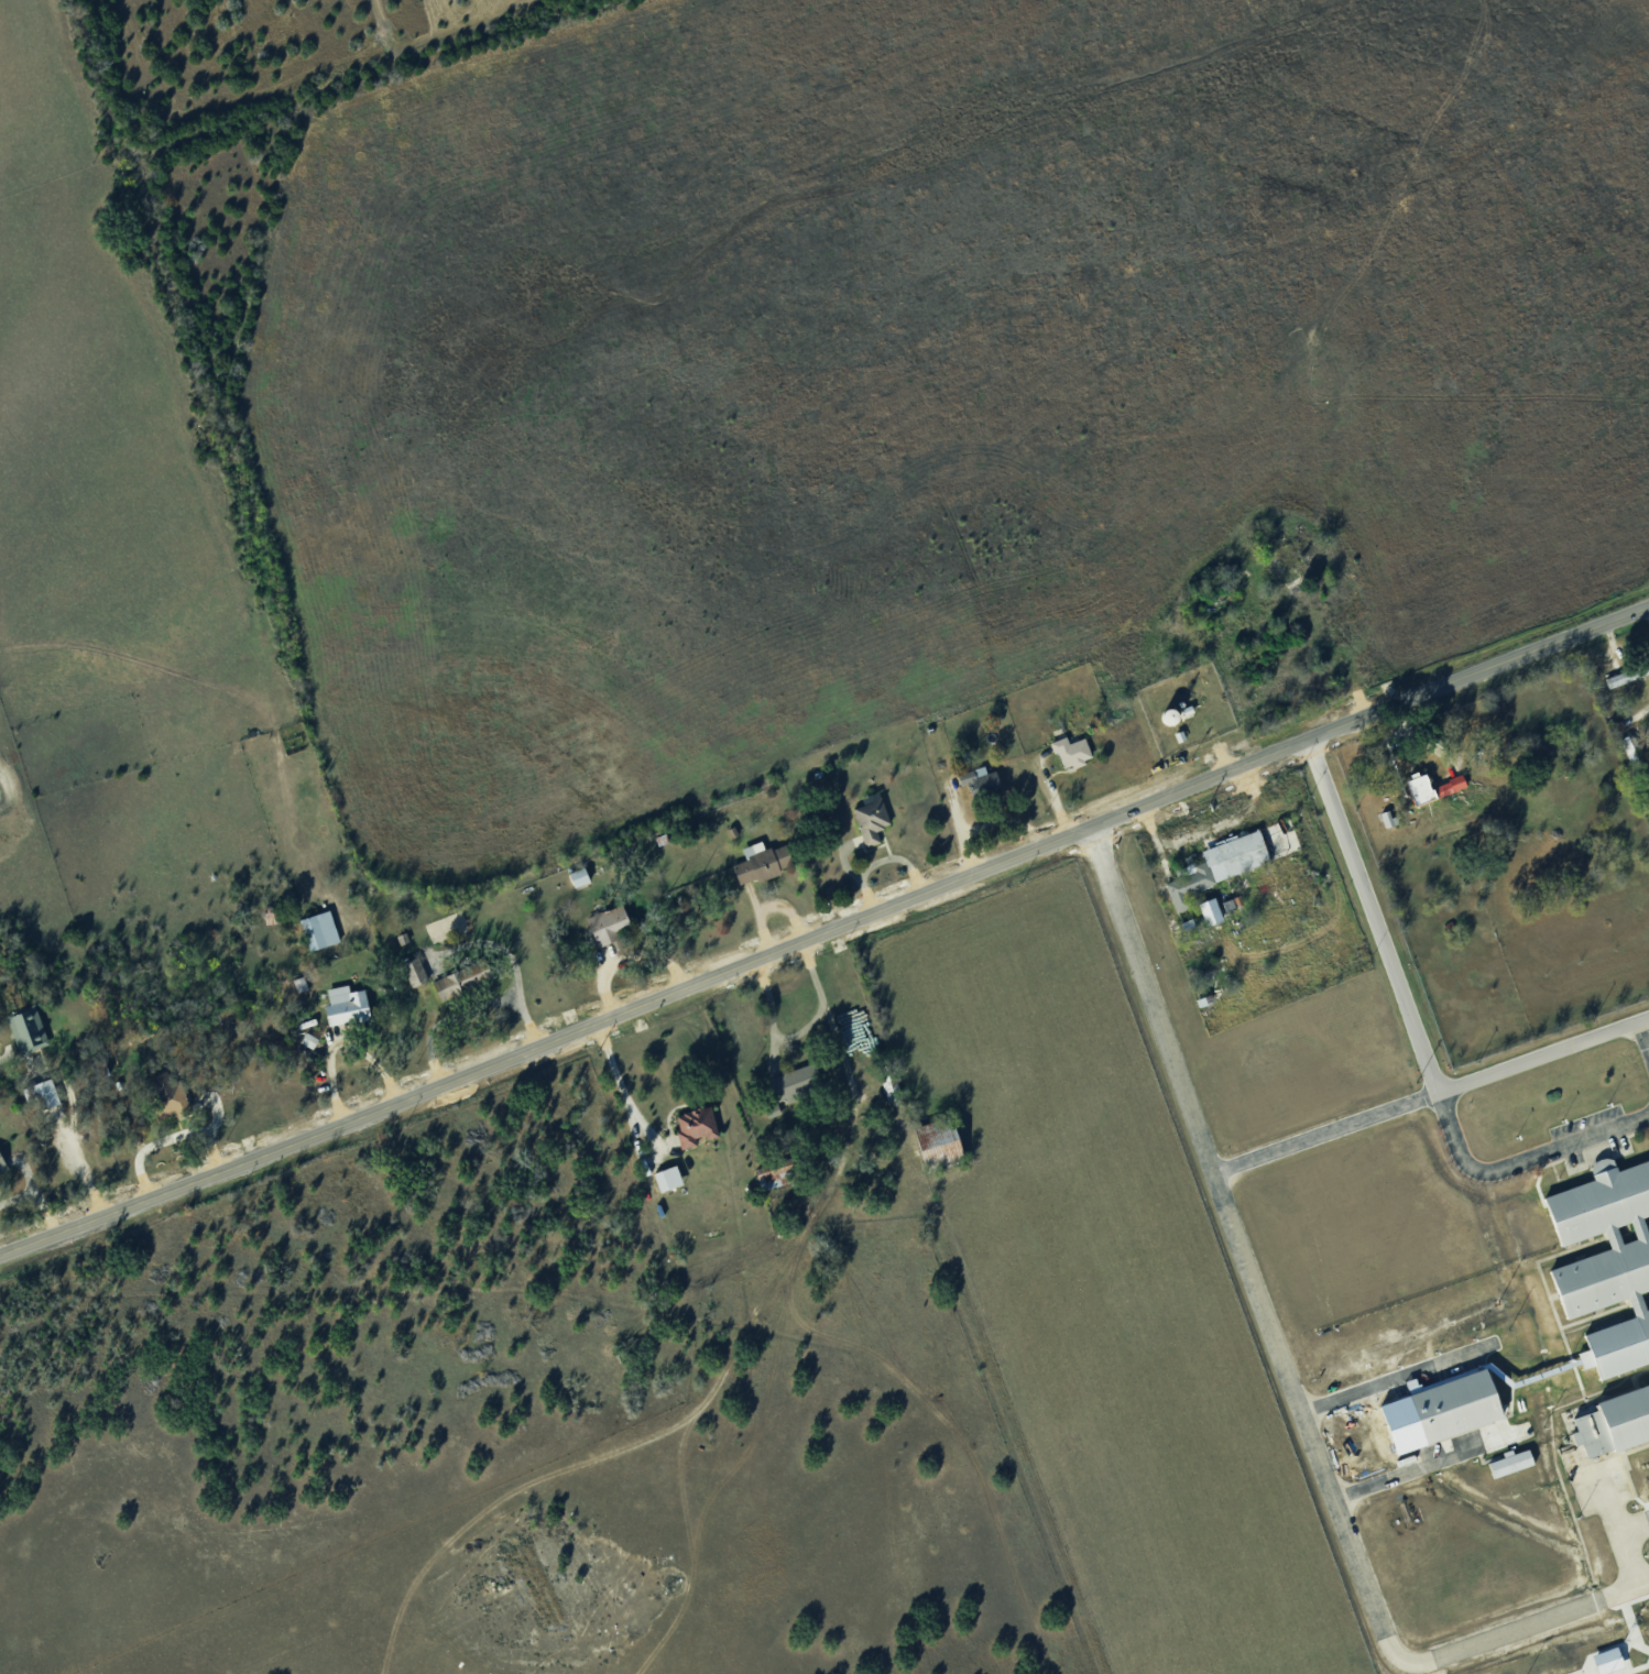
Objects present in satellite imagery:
road: (1616, 655)
building: (1625, 679)
road: (1641, 710)
building: (1645, 734)
building: (1630, 750)
building: (1073, 751)
building: (1624, 761)
building: (982, 779)
building: (1435, 786)
building: (1417, 796)
building: (873, 818)
building: (1389, 818)
road: (880, 860)
building: (764, 861)
road: (843, 861)
building: (1214, 872)
building: (580, 875)
building: (1212, 911)
building: (608, 923)
building: (320, 929)
road: (826, 932)
building: (416, 972)
building: (465, 978)
building: (347, 1004)
road: (1411, 1021)
building: (28, 1029)
road: (799, 1033)
road: (1643, 1037)
building: (309, 1039)
building: (798, 1080)
road: (618, 1081)
building: (894, 1091)
building: (43, 1093)
building: (171, 1096)
road: (1190, 1112)
building: (698, 1125)
building: (943, 1139)
road: (1522, 1159)
building: (2, 1162)
road: (87, 1166)
building: (779, 1172)
building: (669, 1178)
road: (30, 1190)
road: (45, 1211)
building: (1648, 1235)
building: (1603, 1270)
road: (1395, 1379)
building: (1442, 1416)
building: (1613, 1429)
road: (1423, 1467)
building: (1506, 1470)
road: (1361, 1569)
road: (1643, 1582)
building: (1612, 1659)

